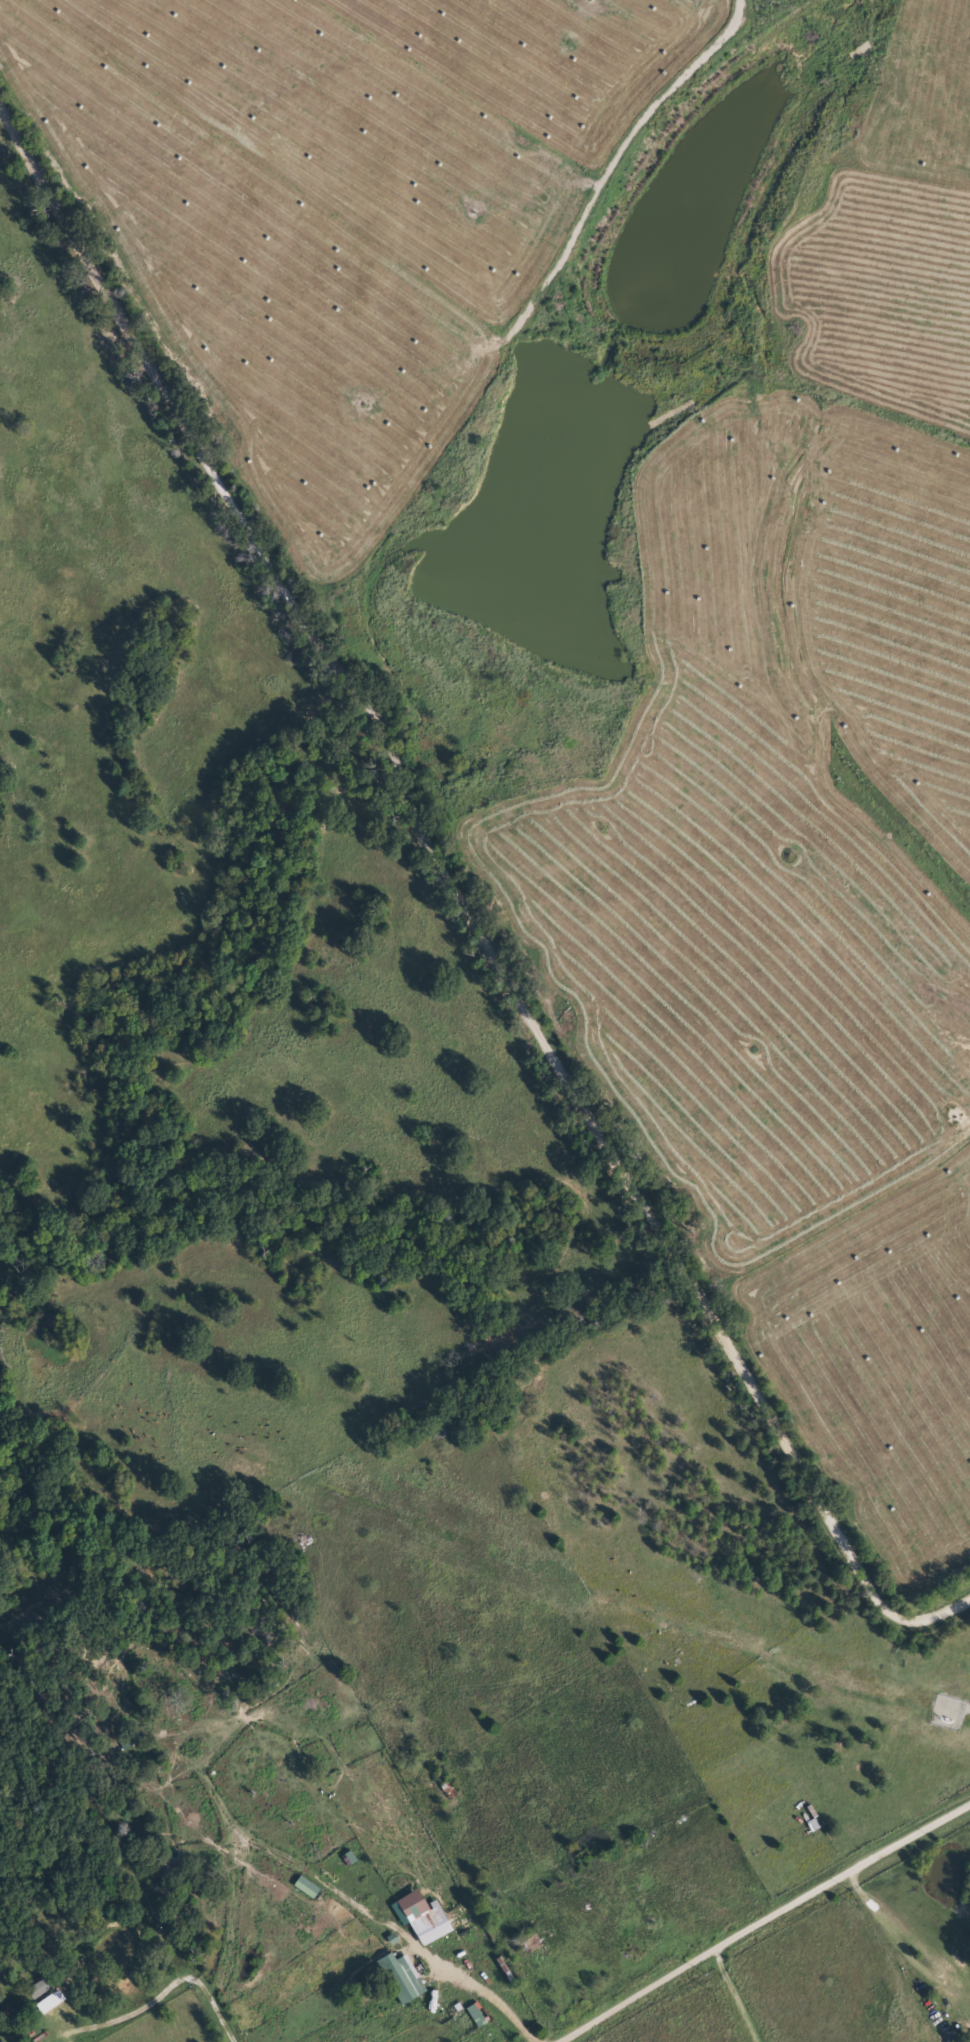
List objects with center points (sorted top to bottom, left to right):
road: (457, 896)
building: (165, 1875)
building: (307, 1887)
road: (231, 1893)
road: (761, 1918)
building: (427, 1920)
building: (400, 1977)
building: (40, 1987)
building: (44, 2005)
road: (589, 2033)

